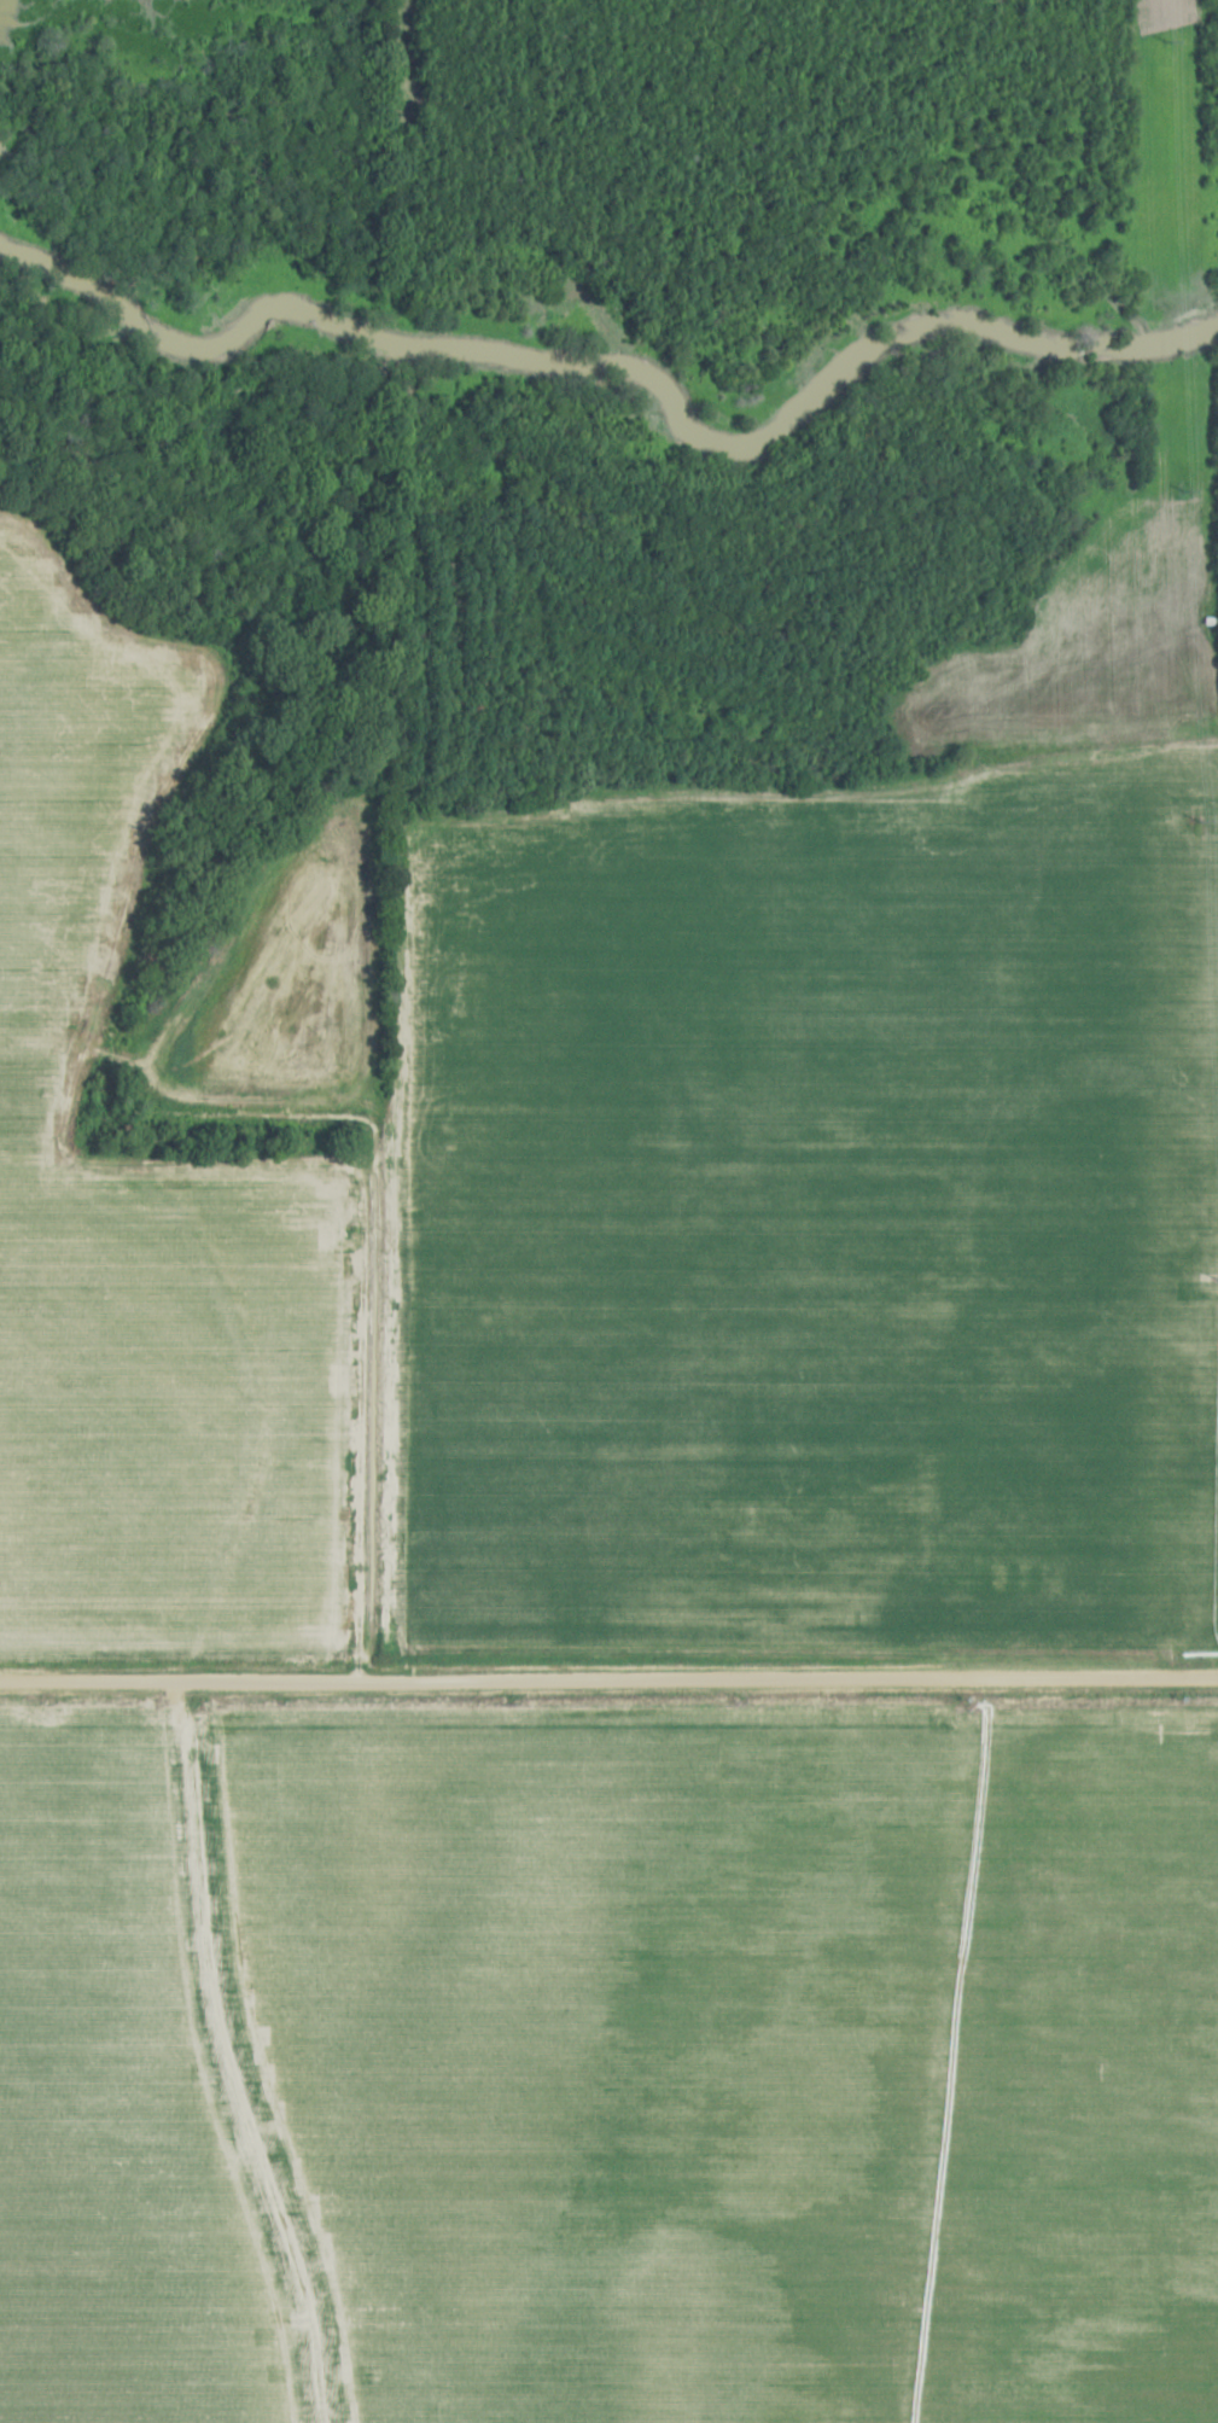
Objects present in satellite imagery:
road: (608, 1677)

